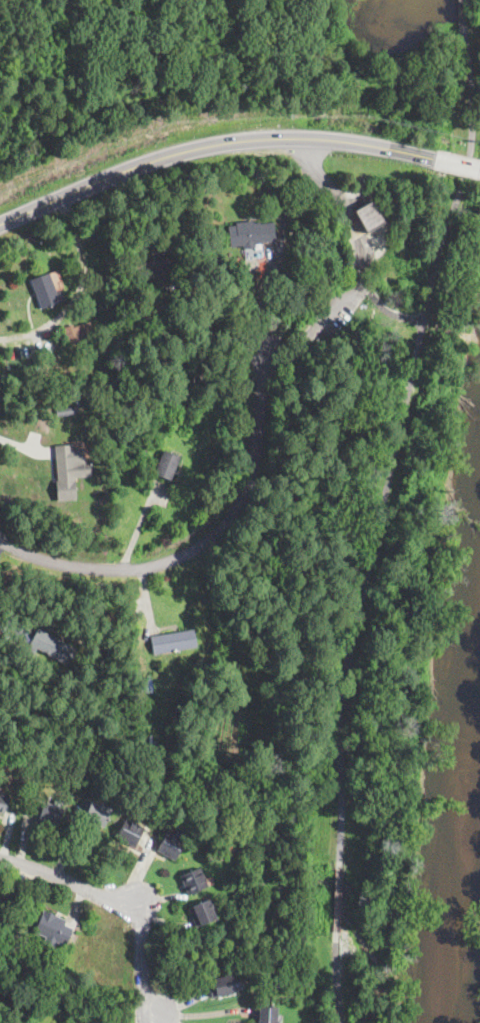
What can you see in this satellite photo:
road: (460, 16)
park: (408, 61)
road: (211, 145)
road: (457, 164)
building: (370, 217)
building: (251, 234)
building: (254, 263)
building: (153, 271)
road: (186, 271)
building: (256, 281)
road: (79, 289)
building: (47, 291)
building: (241, 295)
road: (379, 305)
road: (302, 312)
building: (76, 334)
parking lot: (268, 339)
park: (379, 353)
building: (65, 411)
building: (144, 447)
road: (394, 447)
building: (167, 464)
building: (68, 473)
road: (137, 527)
road: (207, 544)
building: (175, 642)
building: (51, 647)
building: (97, 692)
building: (106, 701)
building: (139, 735)
park: (343, 758)
building: (84, 769)
building: (3, 803)
building: (49, 812)
building: (97, 814)
building: (130, 832)
building: (171, 845)
river: (461, 863)
road: (69, 880)
building: (194, 881)
road: (338, 900)
building: (4, 910)
building: (202, 913)
building: (53, 929)
road: (141, 954)
road: (336, 978)
building: (222, 986)
building: (266, 1014)
road: (162, 1019)

